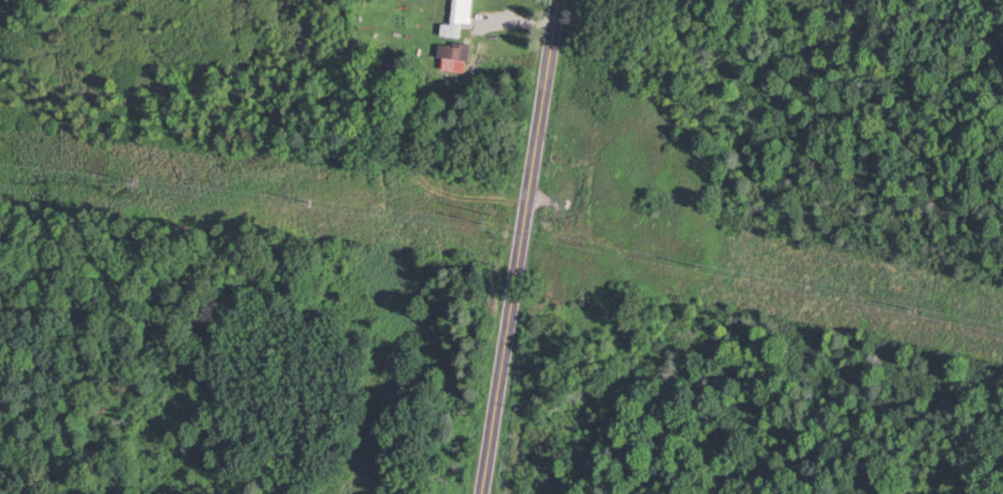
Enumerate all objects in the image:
building: (457, 19)
building: (452, 59)
road: (521, 247)

